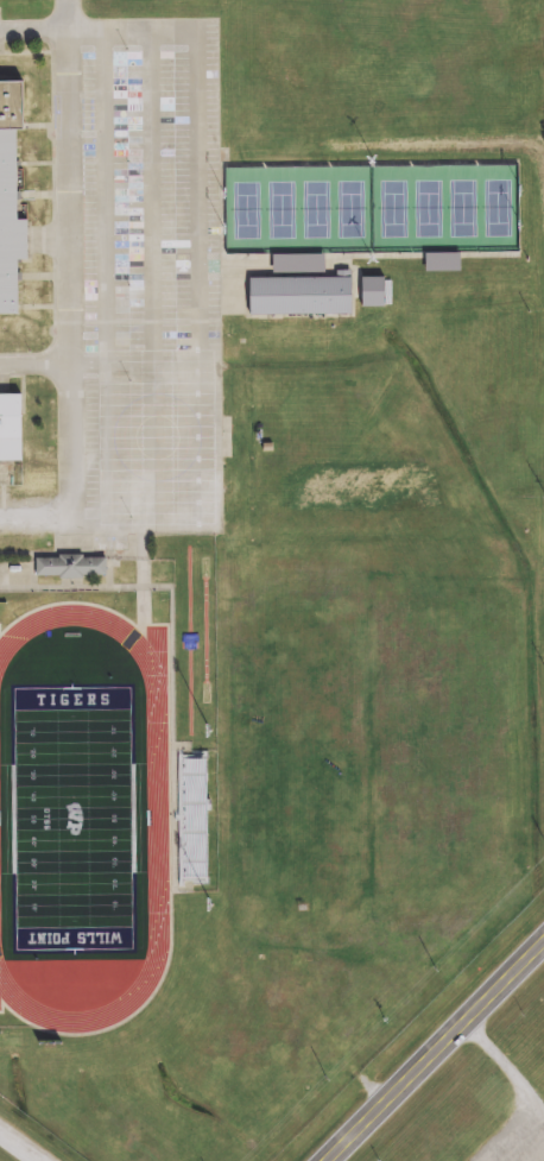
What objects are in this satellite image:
road: (52, 30)
road: (198, 121)
building: (10, 193)
building: (441, 264)
road: (76, 279)
building: (371, 289)
building: (299, 292)
road: (38, 366)
building: (10, 425)
road: (203, 499)
road: (29, 517)
building: (69, 568)
building: (192, 821)
road: (436, 1052)
road: (513, 1071)
road: (18, 1147)

